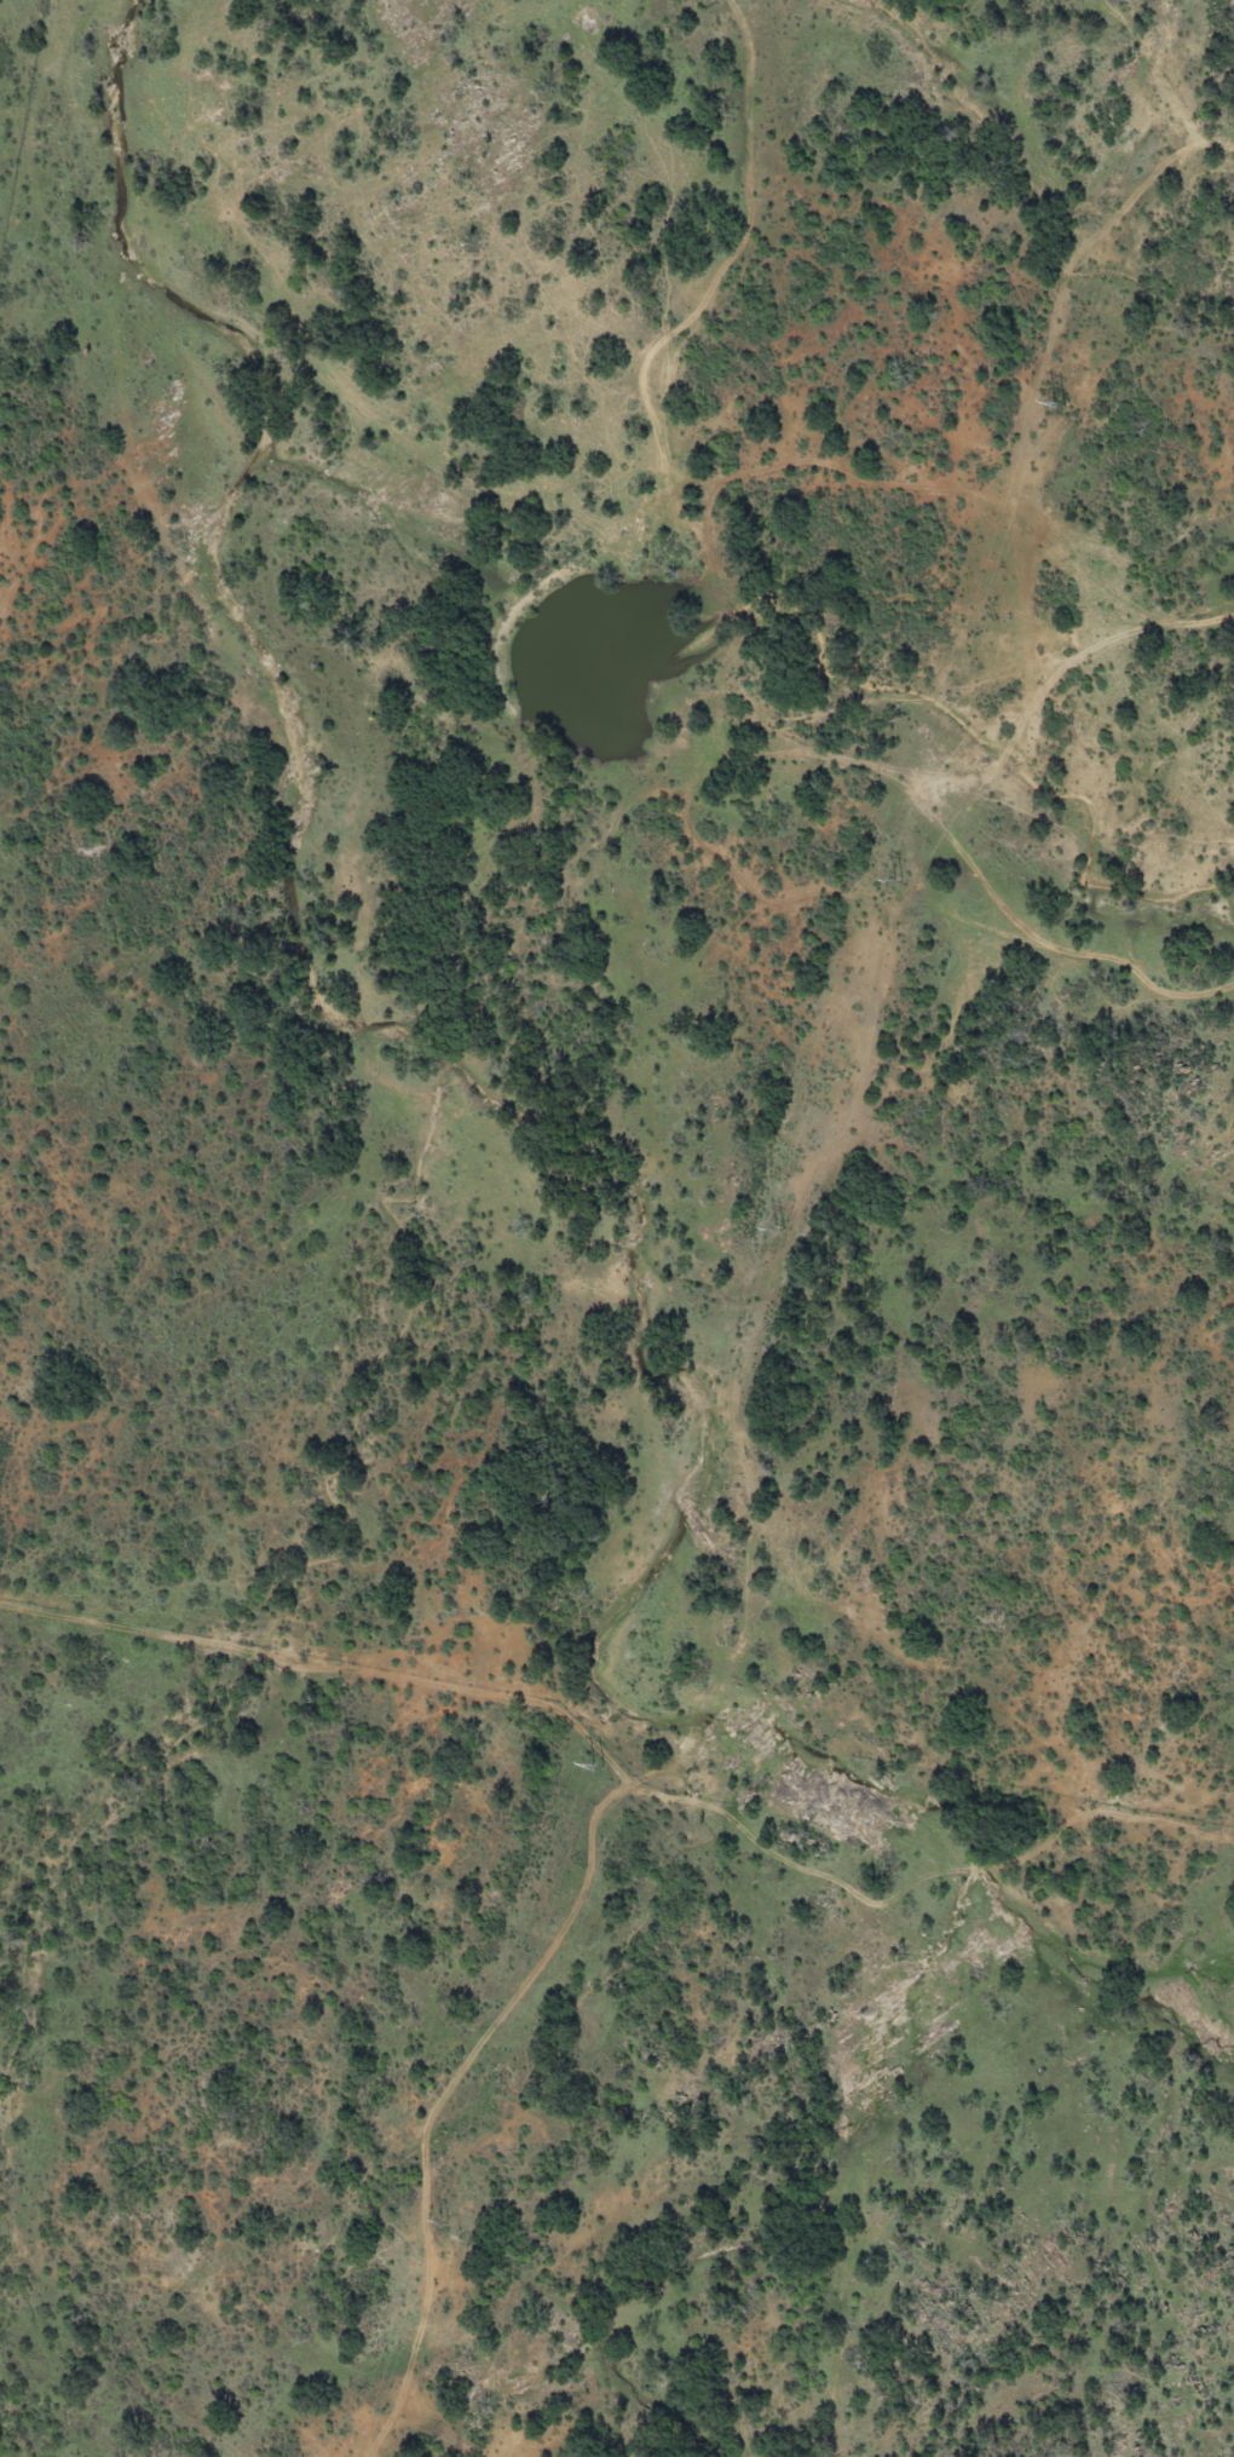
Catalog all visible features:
power tower: (1059, 401)
power tower: (896, 879)
power tower: (778, 1227)
power tower: (598, 1763)
power tower: (443, 2219)

